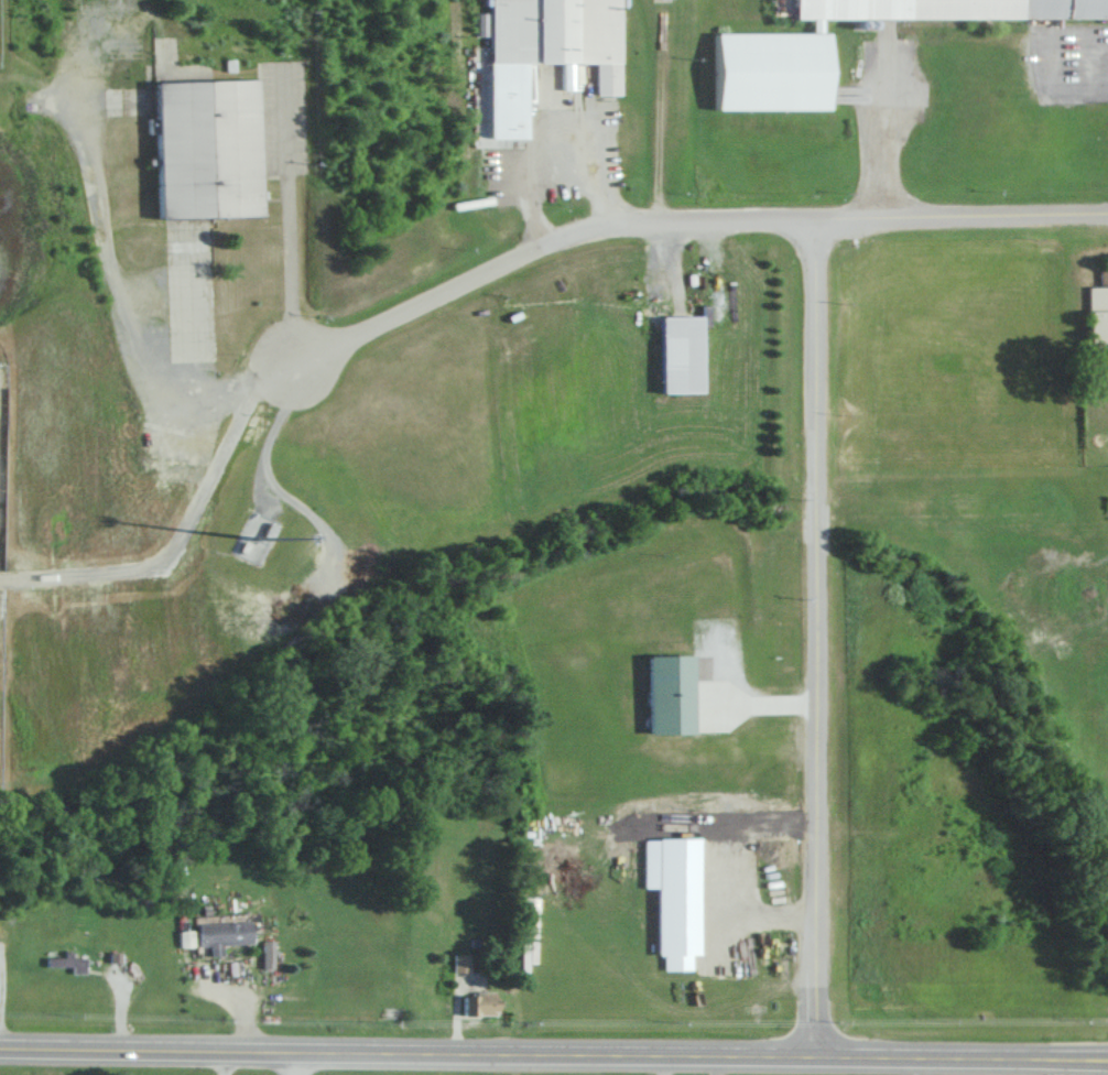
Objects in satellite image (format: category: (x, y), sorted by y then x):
building: (554, 35)
building: (762, 70)
road: (545, 146)
building: (199, 148)
road: (287, 216)
road: (686, 218)
building: (1094, 310)
road: (120, 324)
building: (670, 355)
road: (271, 428)
road: (182, 523)
road: (814, 636)
building: (664, 693)
road: (761, 703)
road: (765, 916)
building: (214, 934)
building: (61, 960)
building: (457, 960)
building: (475, 1002)
road: (553, 1052)
road: (214, 1062)
road: (295, 1062)

